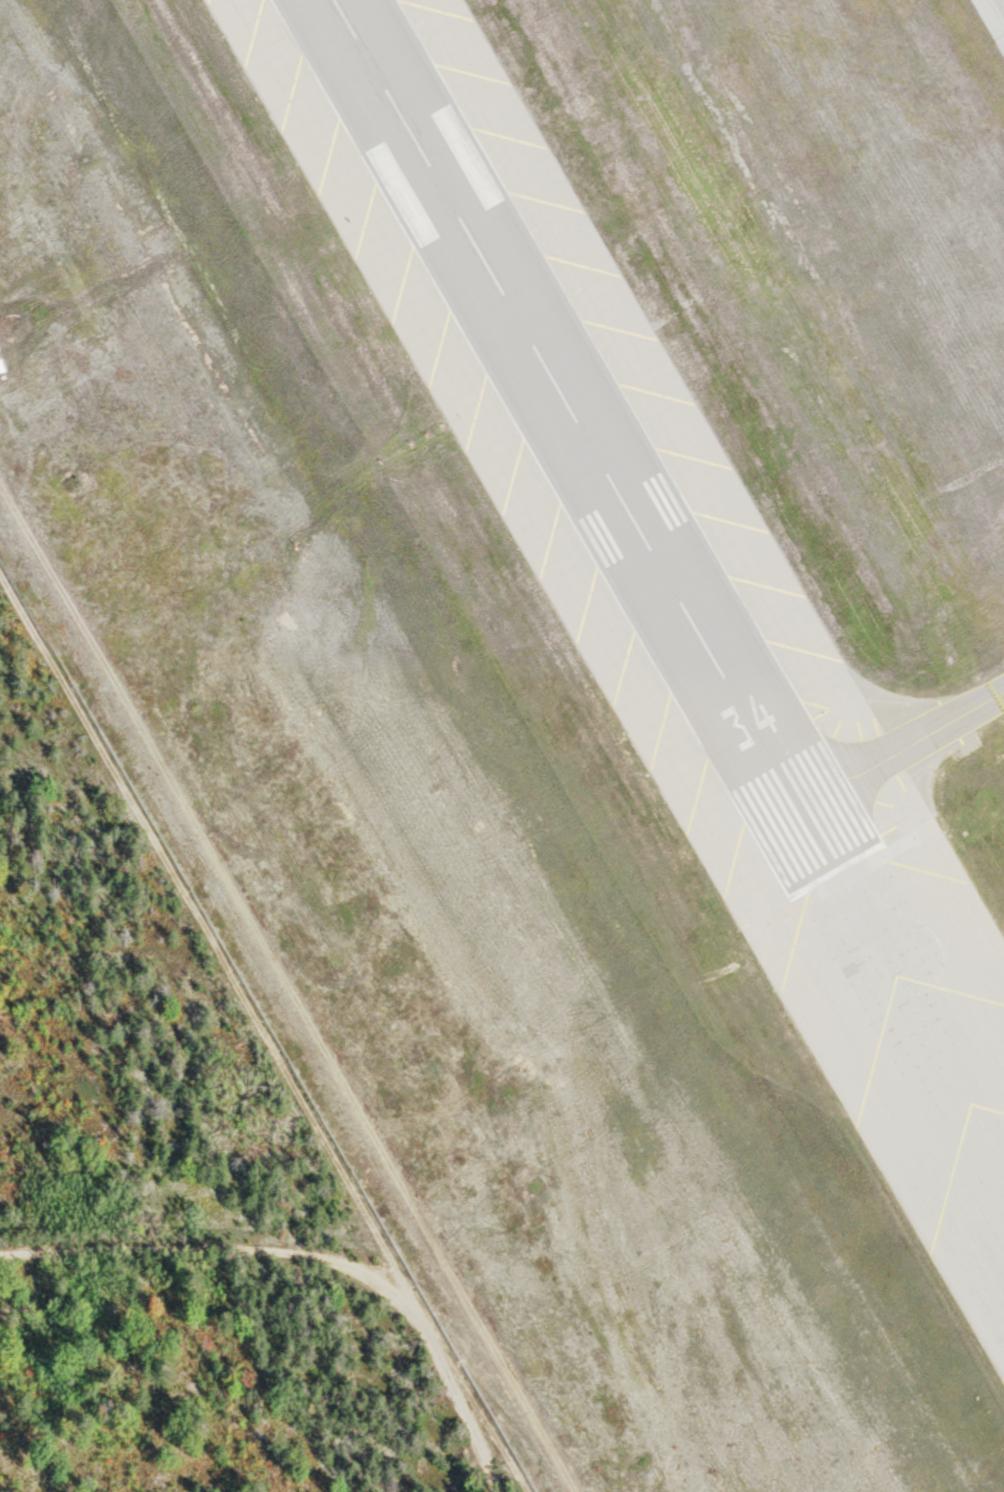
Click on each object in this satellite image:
airport runway: (576, 434)
airport apron: (735, 465)
airport: (565, 660)
airport taxiway: (896, 742)
road: (242, 919)
road: (309, 1293)

